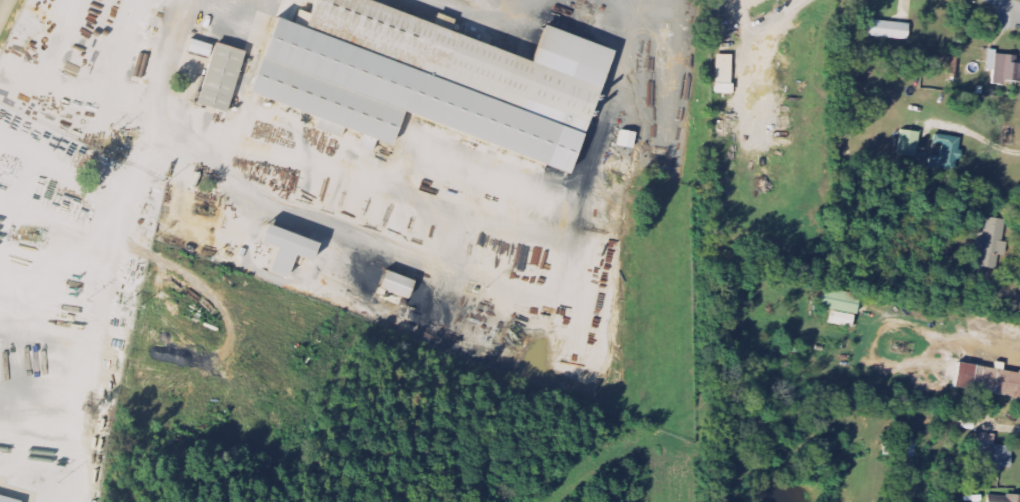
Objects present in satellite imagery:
road: (681, 1)
road: (1, 3)
road: (492, 21)
building: (448, 22)
building: (889, 30)
road: (175, 62)
building: (1004, 68)
building: (726, 74)
building: (218, 75)
building: (435, 81)
building: (629, 140)
building: (910, 143)
building: (948, 153)
building: (993, 244)
building: (291, 250)
road: (51, 274)
road: (106, 282)
building: (403, 290)
building: (843, 302)
building: (843, 319)
building: (989, 381)
road: (38, 435)
building: (901, 447)
building: (995, 455)
road: (70, 473)
building: (8, 499)
building: (1003, 499)

